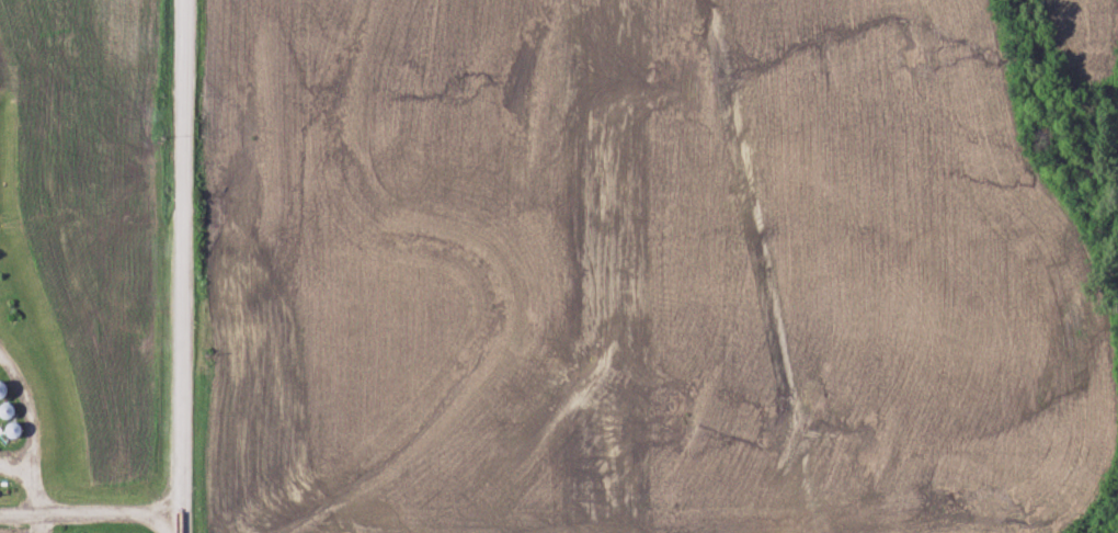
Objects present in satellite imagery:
road: (180, 266)
road: (89, 519)

